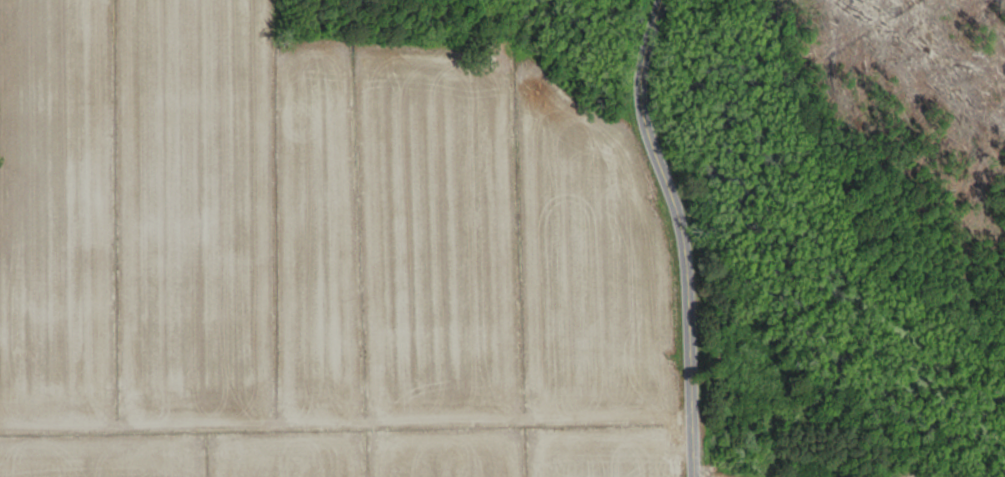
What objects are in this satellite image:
road: (674, 233)

